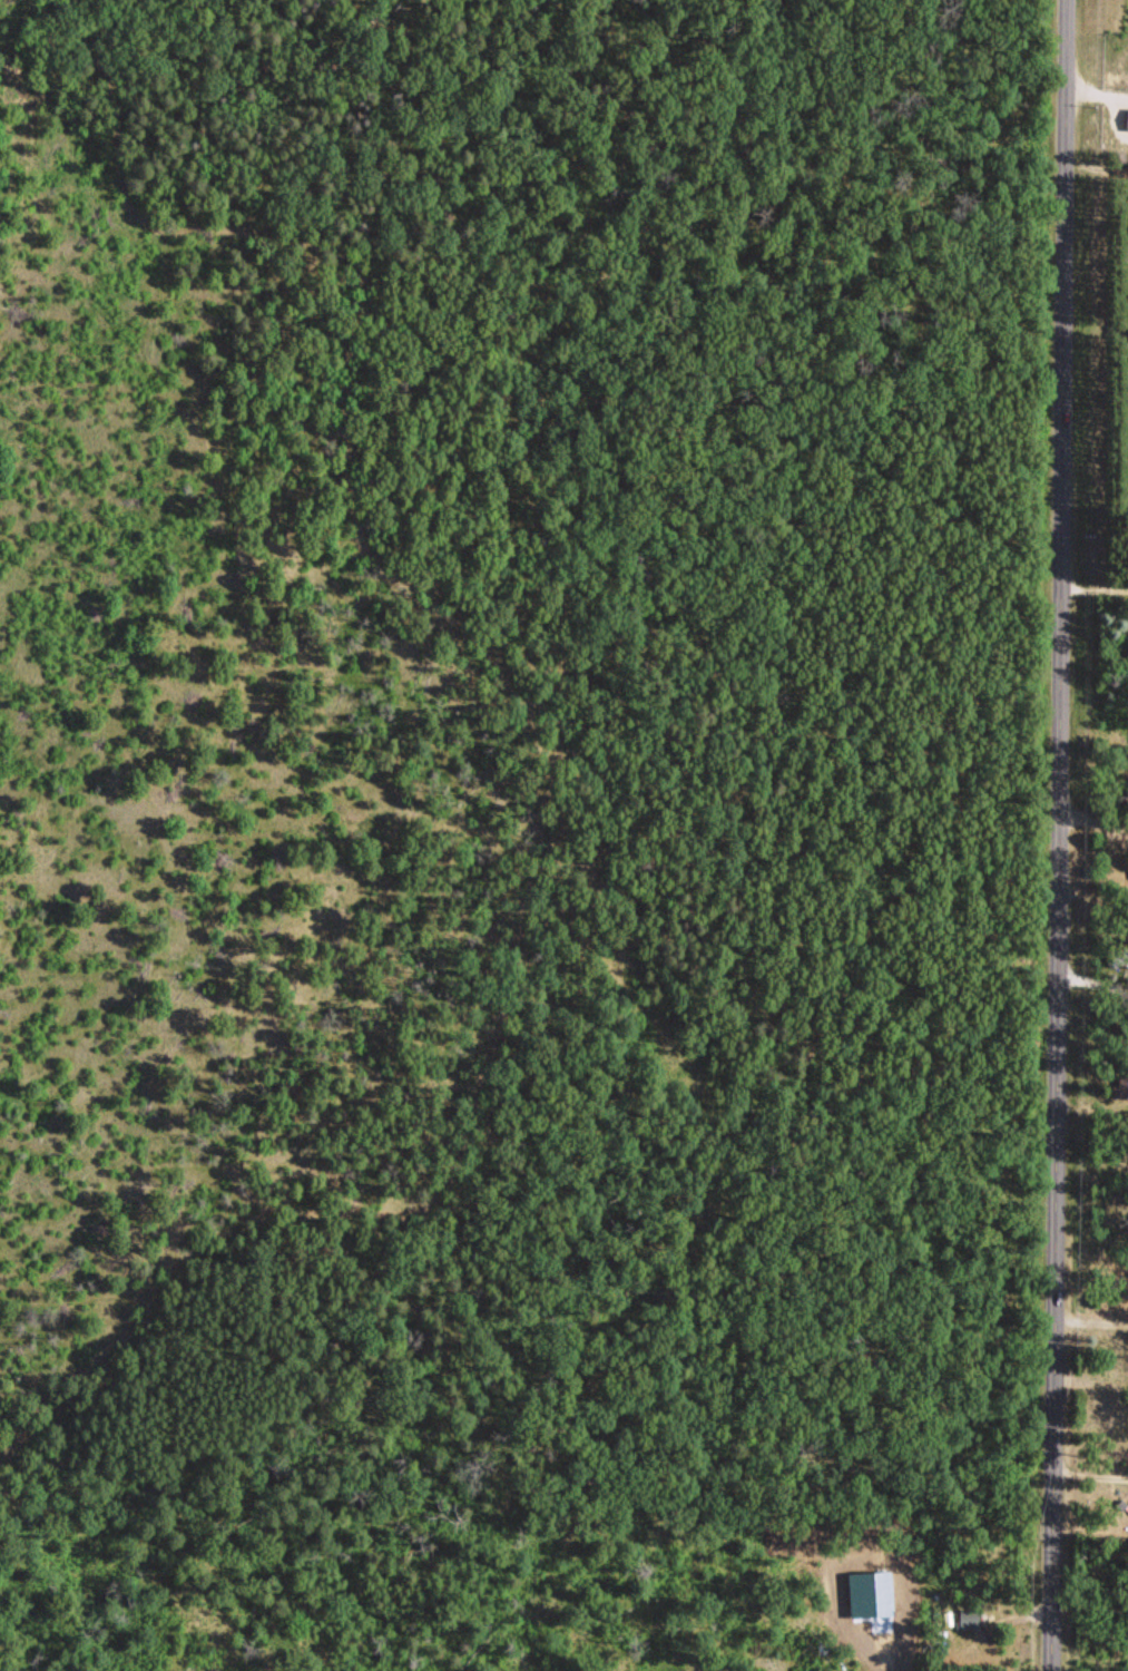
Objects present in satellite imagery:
building: (1126, 119)
road: (1060, 836)
building: (1118, 956)
road: (1092, 1233)
building: (968, 1619)

